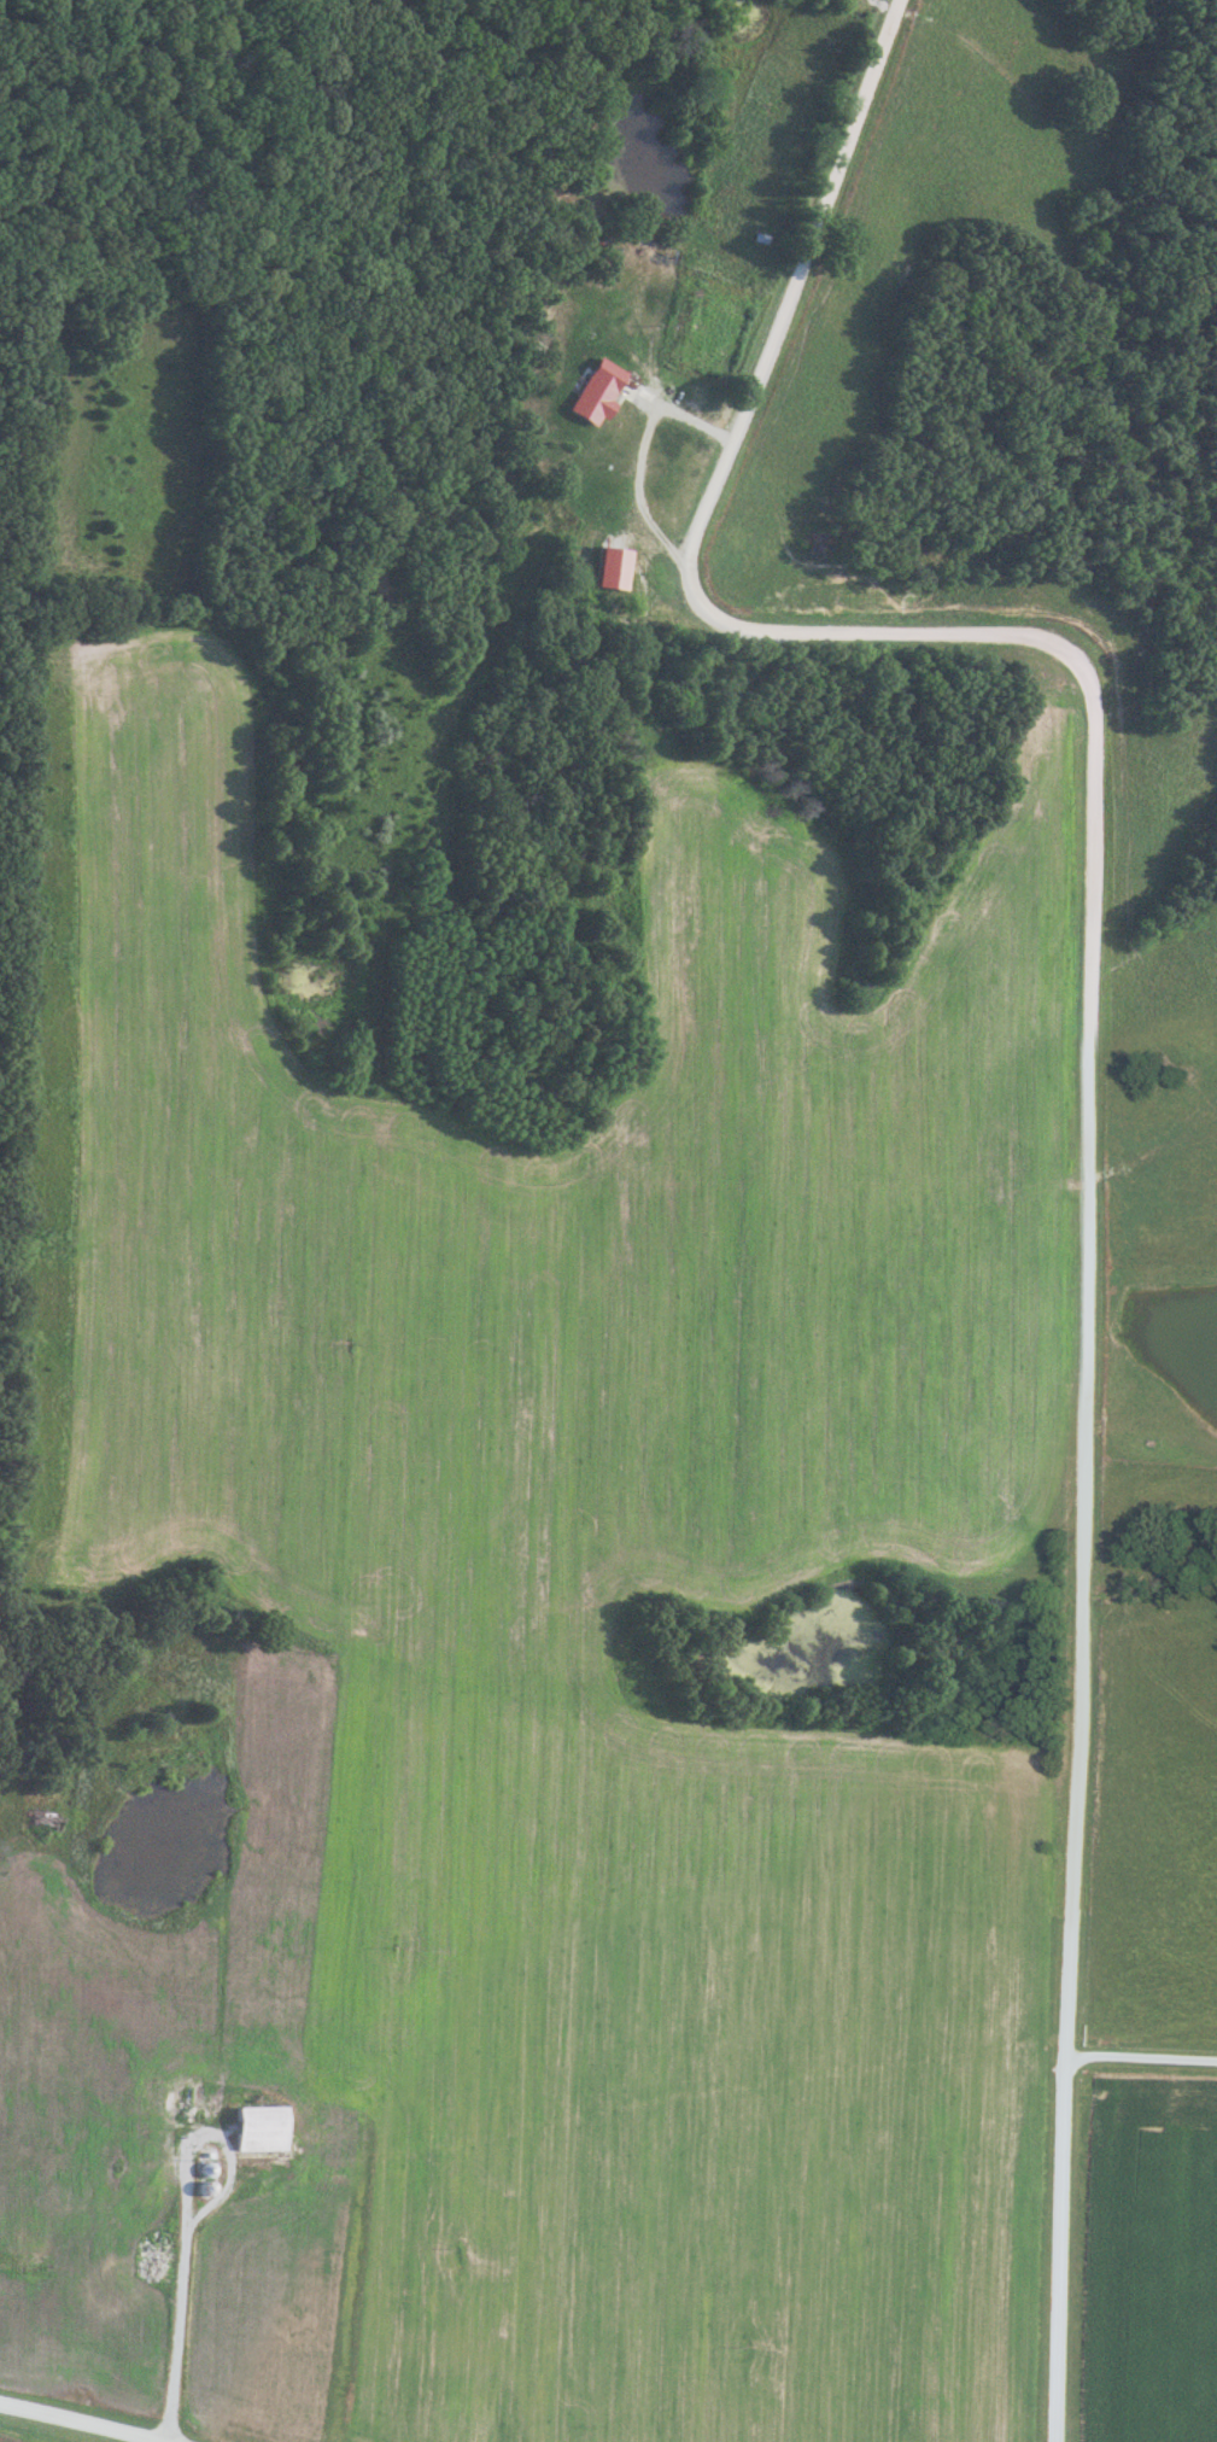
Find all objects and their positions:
building: (667, 443)
road: (633, 454)
building: (618, 567)
building: (620, 612)
road: (1088, 1027)
road: (1141, 2055)
building: (181, 2098)
building: (256, 2130)
road: (182, 2138)
building: (122, 2279)
road: (171, 2326)
road: (4, 2405)
road: (87, 2421)

